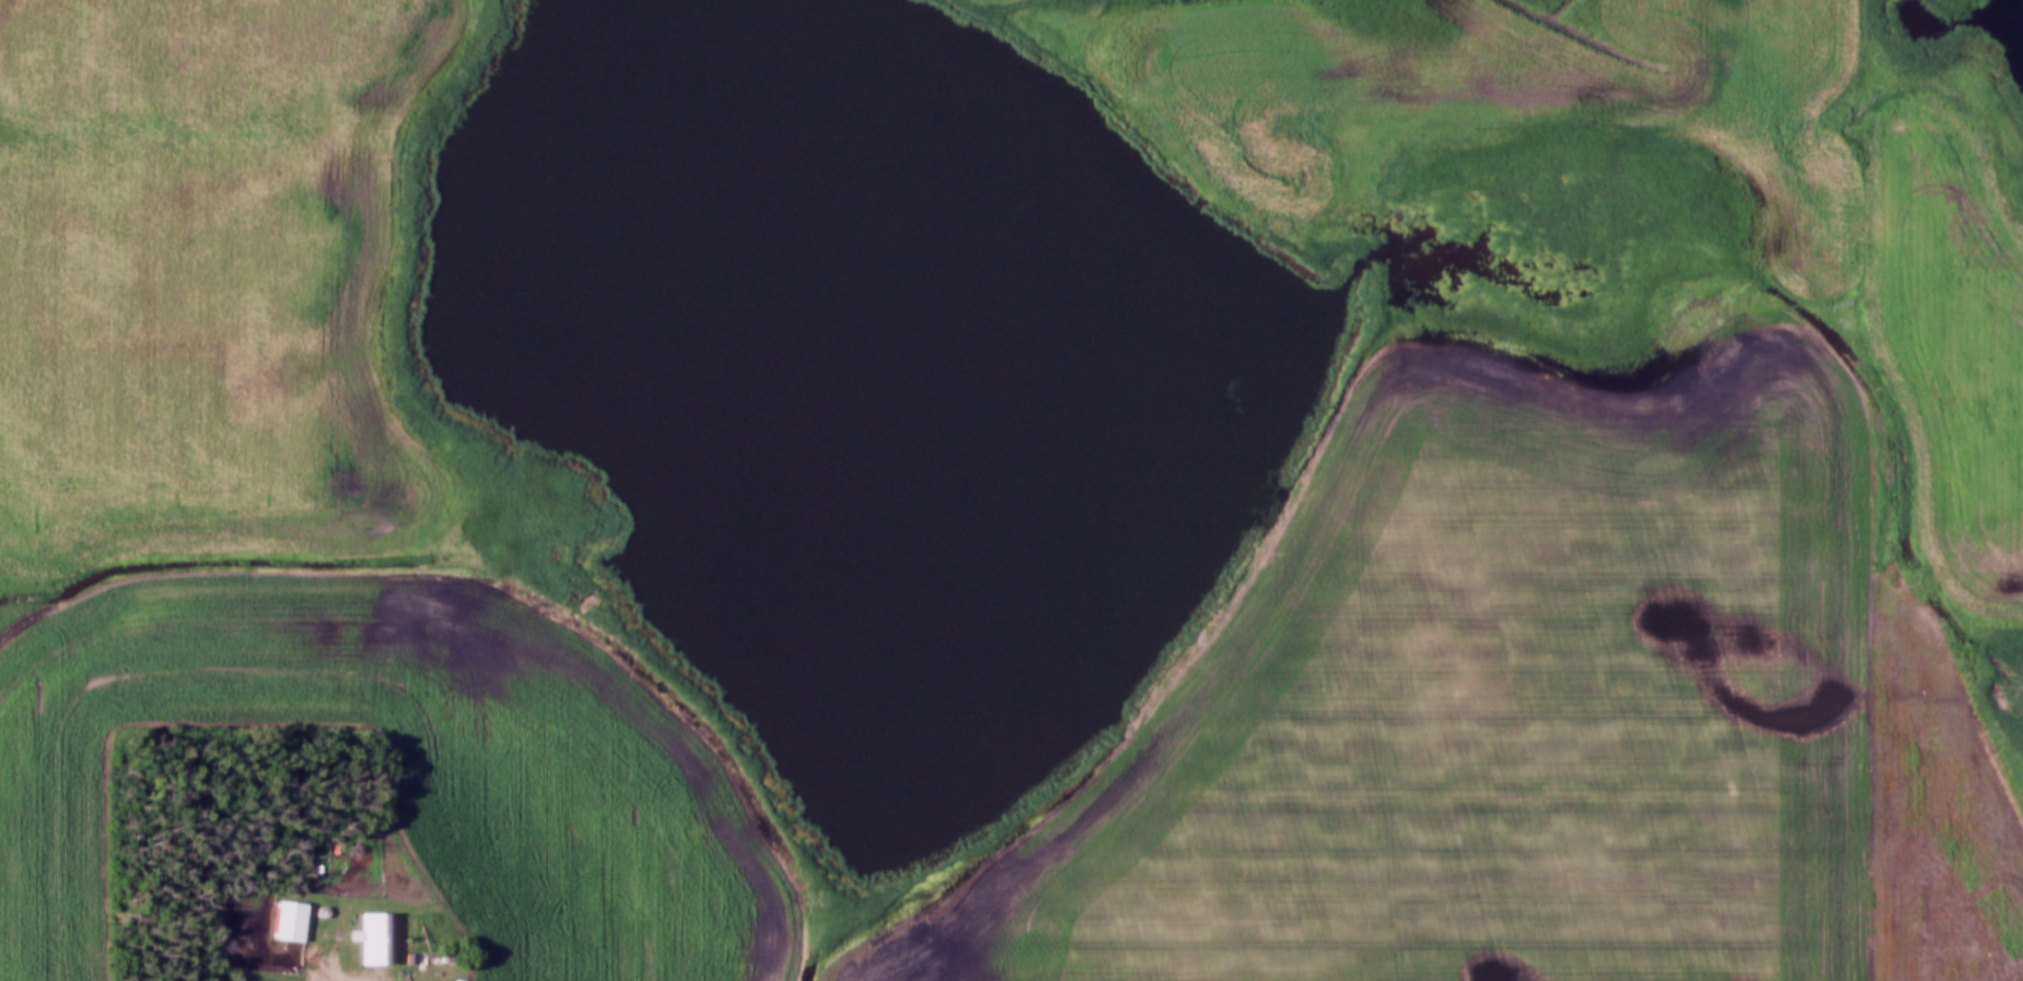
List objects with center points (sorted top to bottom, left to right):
building: (288, 925)
building: (379, 942)
road: (379, 979)

